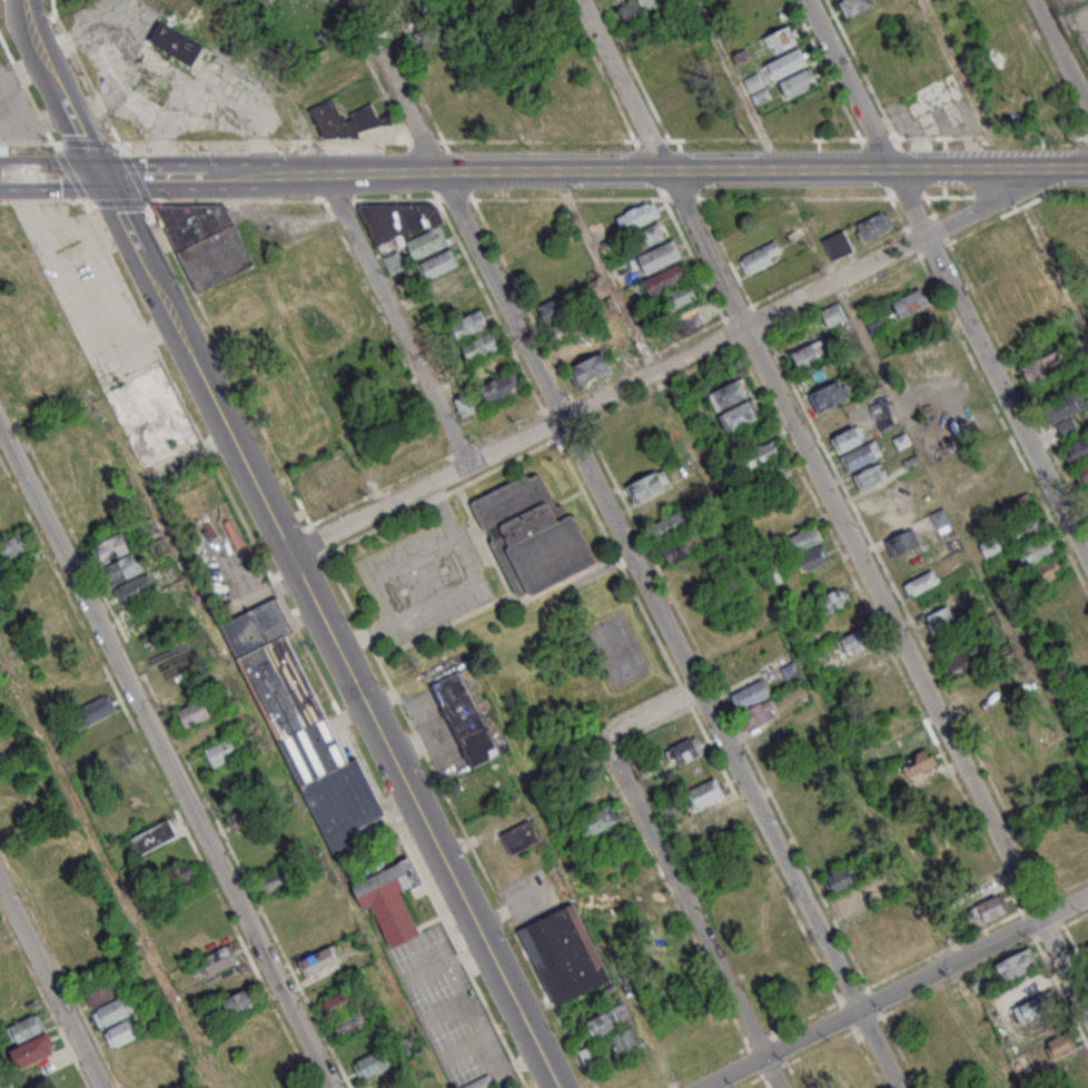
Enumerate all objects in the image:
building: (855, 6)
building: (636, 9)
building: (421, 26)
building: (641, 29)
building: (780, 40)
building: (174, 44)
road: (1059, 57)
building: (787, 63)
building: (111, 65)
road: (736, 82)
road: (621, 83)
building: (798, 83)
road: (848, 83)
road: (394, 85)
building: (756, 88)
road: (59, 90)
building: (932, 95)
building: (139, 107)
building: (197, 113)
building: (342, 121)
road: (632, 168)
road: (11, 178)
road: (63, 179)
traffic signals: (102, 179)
road: (140, 179)
road: (543, 197)
building: (637, 216)
building: (406, 226)
building: (872, 226)
building: (650, 235)
building: (206, 241)
building: (837, 245)
building: (659, 256)
building: (760, 256)
building: (394, 261)
building: (976, 261)
building: (438, 264)
road: (96, 265)
building: (666, 278)
building: (685, 293)
building: (909, 303)
building: (832, 315)
building: (562, 317)
building: (692, 317)
road: (393, 319)
building: (468, 324)
building: (479, 346)
building: (578, 347)
building: (810, 354)
road: (988, 363)
road: (666, 365)
building: (1044, 365)
building: (591, 368)
building: (501, 387)
building: (729, 394)
building: (829, 395)
building: (466, 407)
road: (902, 409)
building: (1065, 413)
building: (740, 415)
building: (882, 415)
building: (150, 416)
building: (848, 438)
building: (1078, 449)
building: (762, 454)
building: (861, 455)
building: (1084, 474)
building: (771, 476)
building: (870, 476)
building: (647, 486)
building: (336, 495)
building: (1015, 507)
building: (940, 521)
building: (670, 525)
building: (1025, 530)
building: (532, 535)
building: (803, 538)
building: (902, 542)
building: (14, 544)
building: (111, 548)
building: (1036, 551)
building: (813, 556)
road: (387, 564)
building: (122, 570)
building: (1048, 570)
building: (921, 583)
building: (136, 588)
road: (449, 590)
road: (874, 592)
building: (835, 599)
park: (512, 610)
building: (942, 620)
road: (666, 629)
road: (329, 634)
building: (854, 641)
building: (966, 661)
building: (754, 703)
building: (98, 710)
building: (195, 713)
road: (652, 713)
building: (465, 719)
building: (304, 729)
building: (686, 750)
building: (221, 752)
building: (912, 752)
road: (167, 754)
building: (647, 766)
building: (704, 793)
building: (713, 815)
building: (244, 818)
building: (600, 820)
building: (152, 837)
building: (518, 838)
building: (179, 873)
building: (841, 878)
building: (271, 881)
building: (855, 898)
building: (389, 899)
road: (683, 900)
building: (990, 908)
building: (777, 939)
building: (1087, 944)
building: (566, 955)
building: (219, 959)
building: (319, 960)
building: (1015, 966)
road: (52, 982)
road: (894, 991)
building: (99, 995)
building: (239, 1001)
building: (339, 1001)
building: (1032, 1008)
building: (117, 1010)
road: (469, 1016)
building: (607, 1020)
building: (352, 1022)
building: (26, 1028)
building: (127, 1030)
building: (625, 1040)
building: (1060, 1044)
building: (32, 1050)
building: (591, 1056)
building: (372, 1064)
road: (770, 1072)
building: (481, 1082)
building: (513, 1087)

